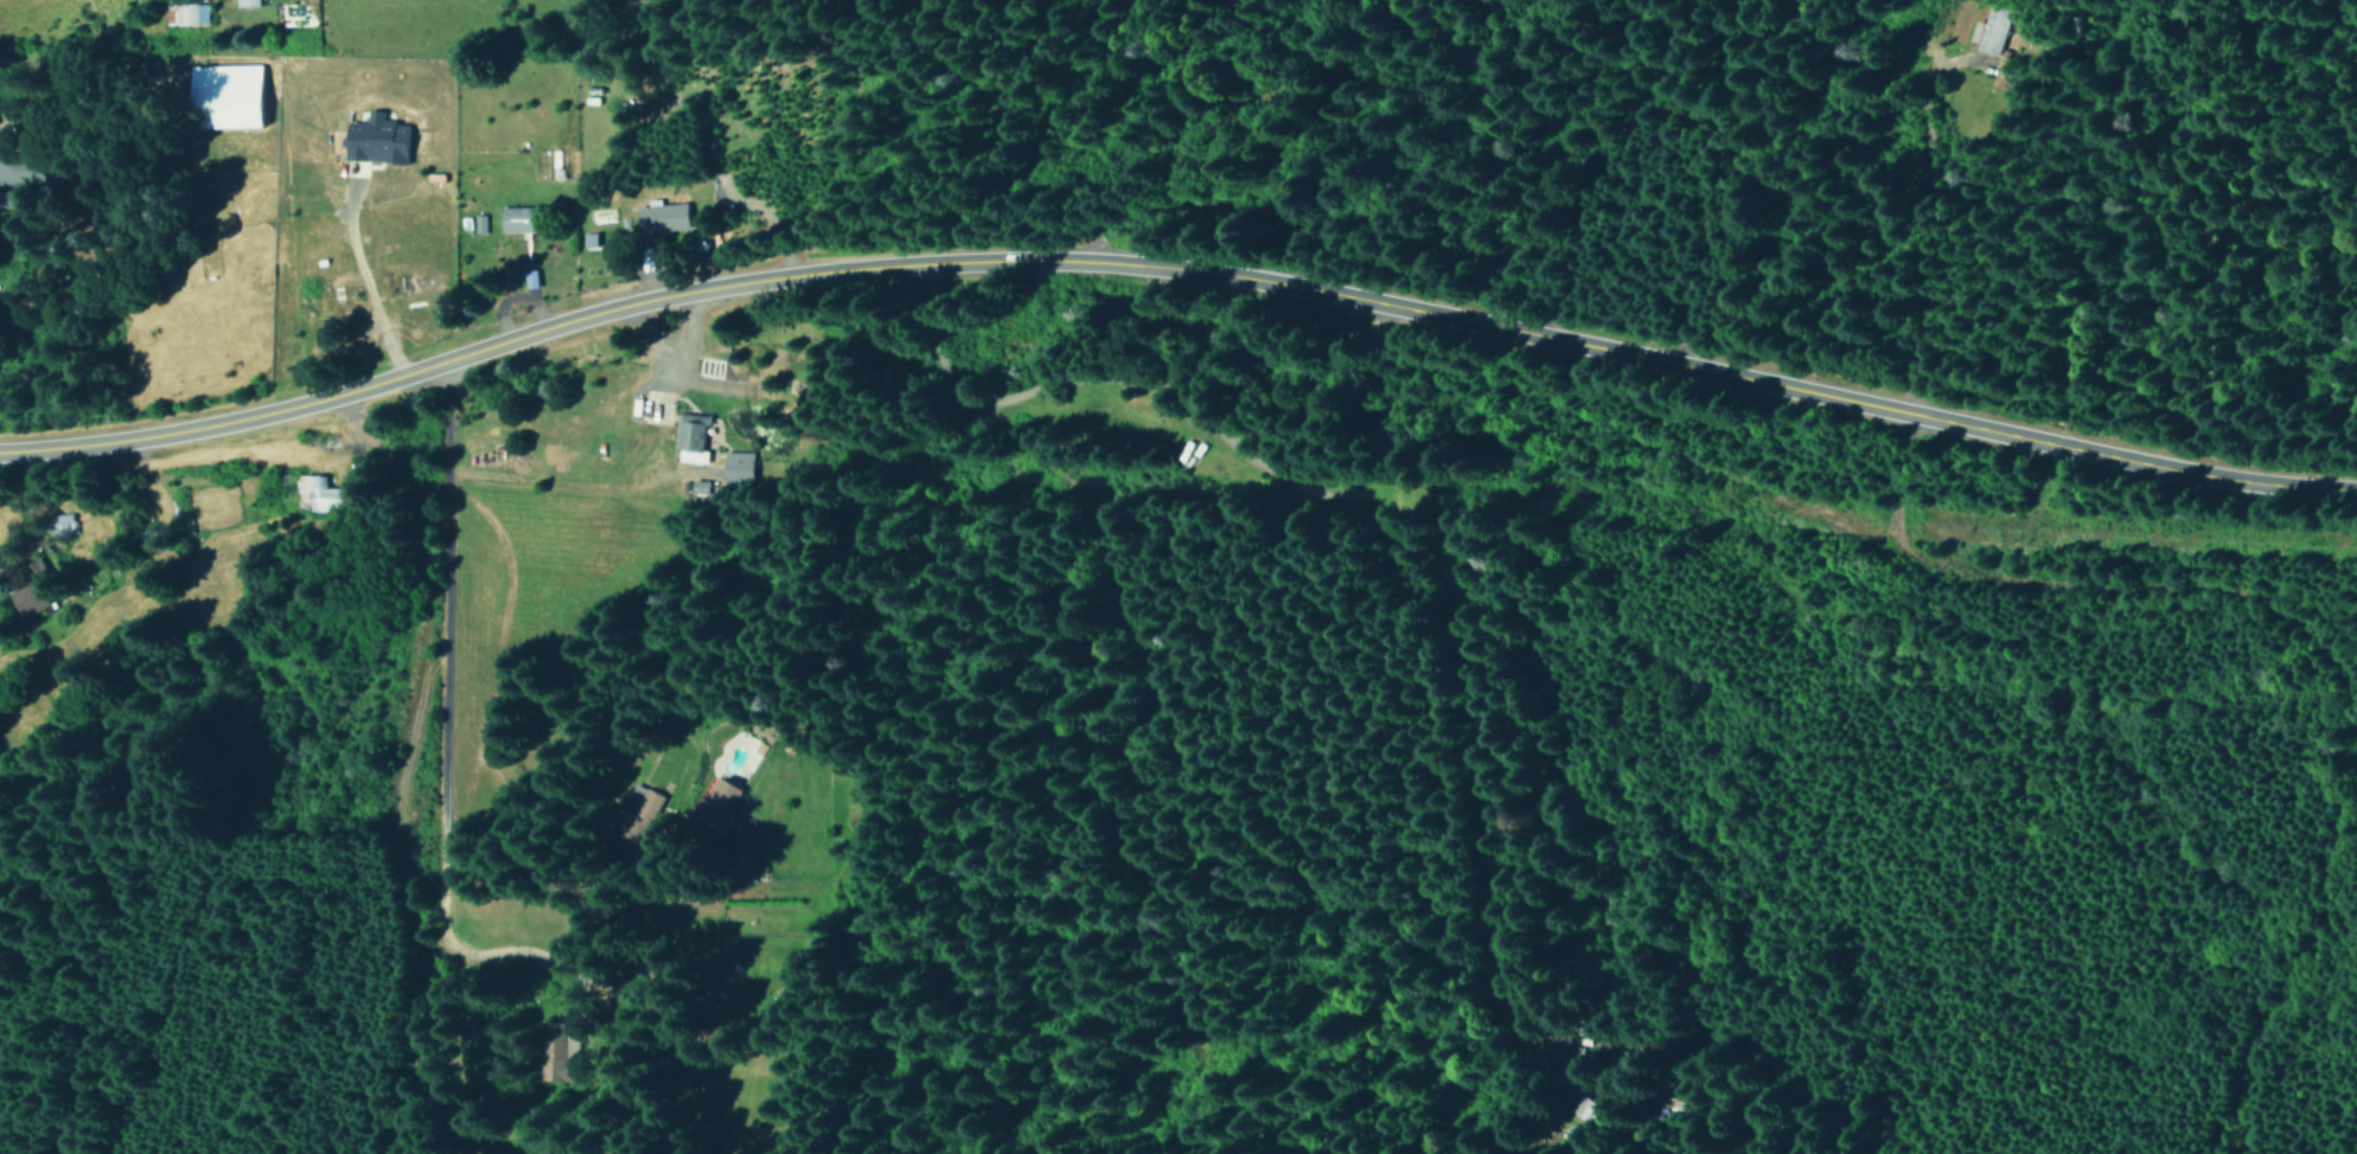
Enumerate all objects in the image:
building: (249, 2)
building: (189, 13)
building: (1988, 30)
road: (1157, 97)
road: (5, 108)
building: (373, 139)
building: (26, 171)
building: (515, 218)
building: (478, 223)
road: (1177, 269)
building: (688, 437)
building: (735, 467)
building: (314, 493)
road: (427, 513)
road: (1771, 528)
road: (1382, 540)
building: (25, 597)
road: (2292, 623)
road: (472, 756)
building: (716, 800)
building: (639, 801)
building: (555, 1057)

